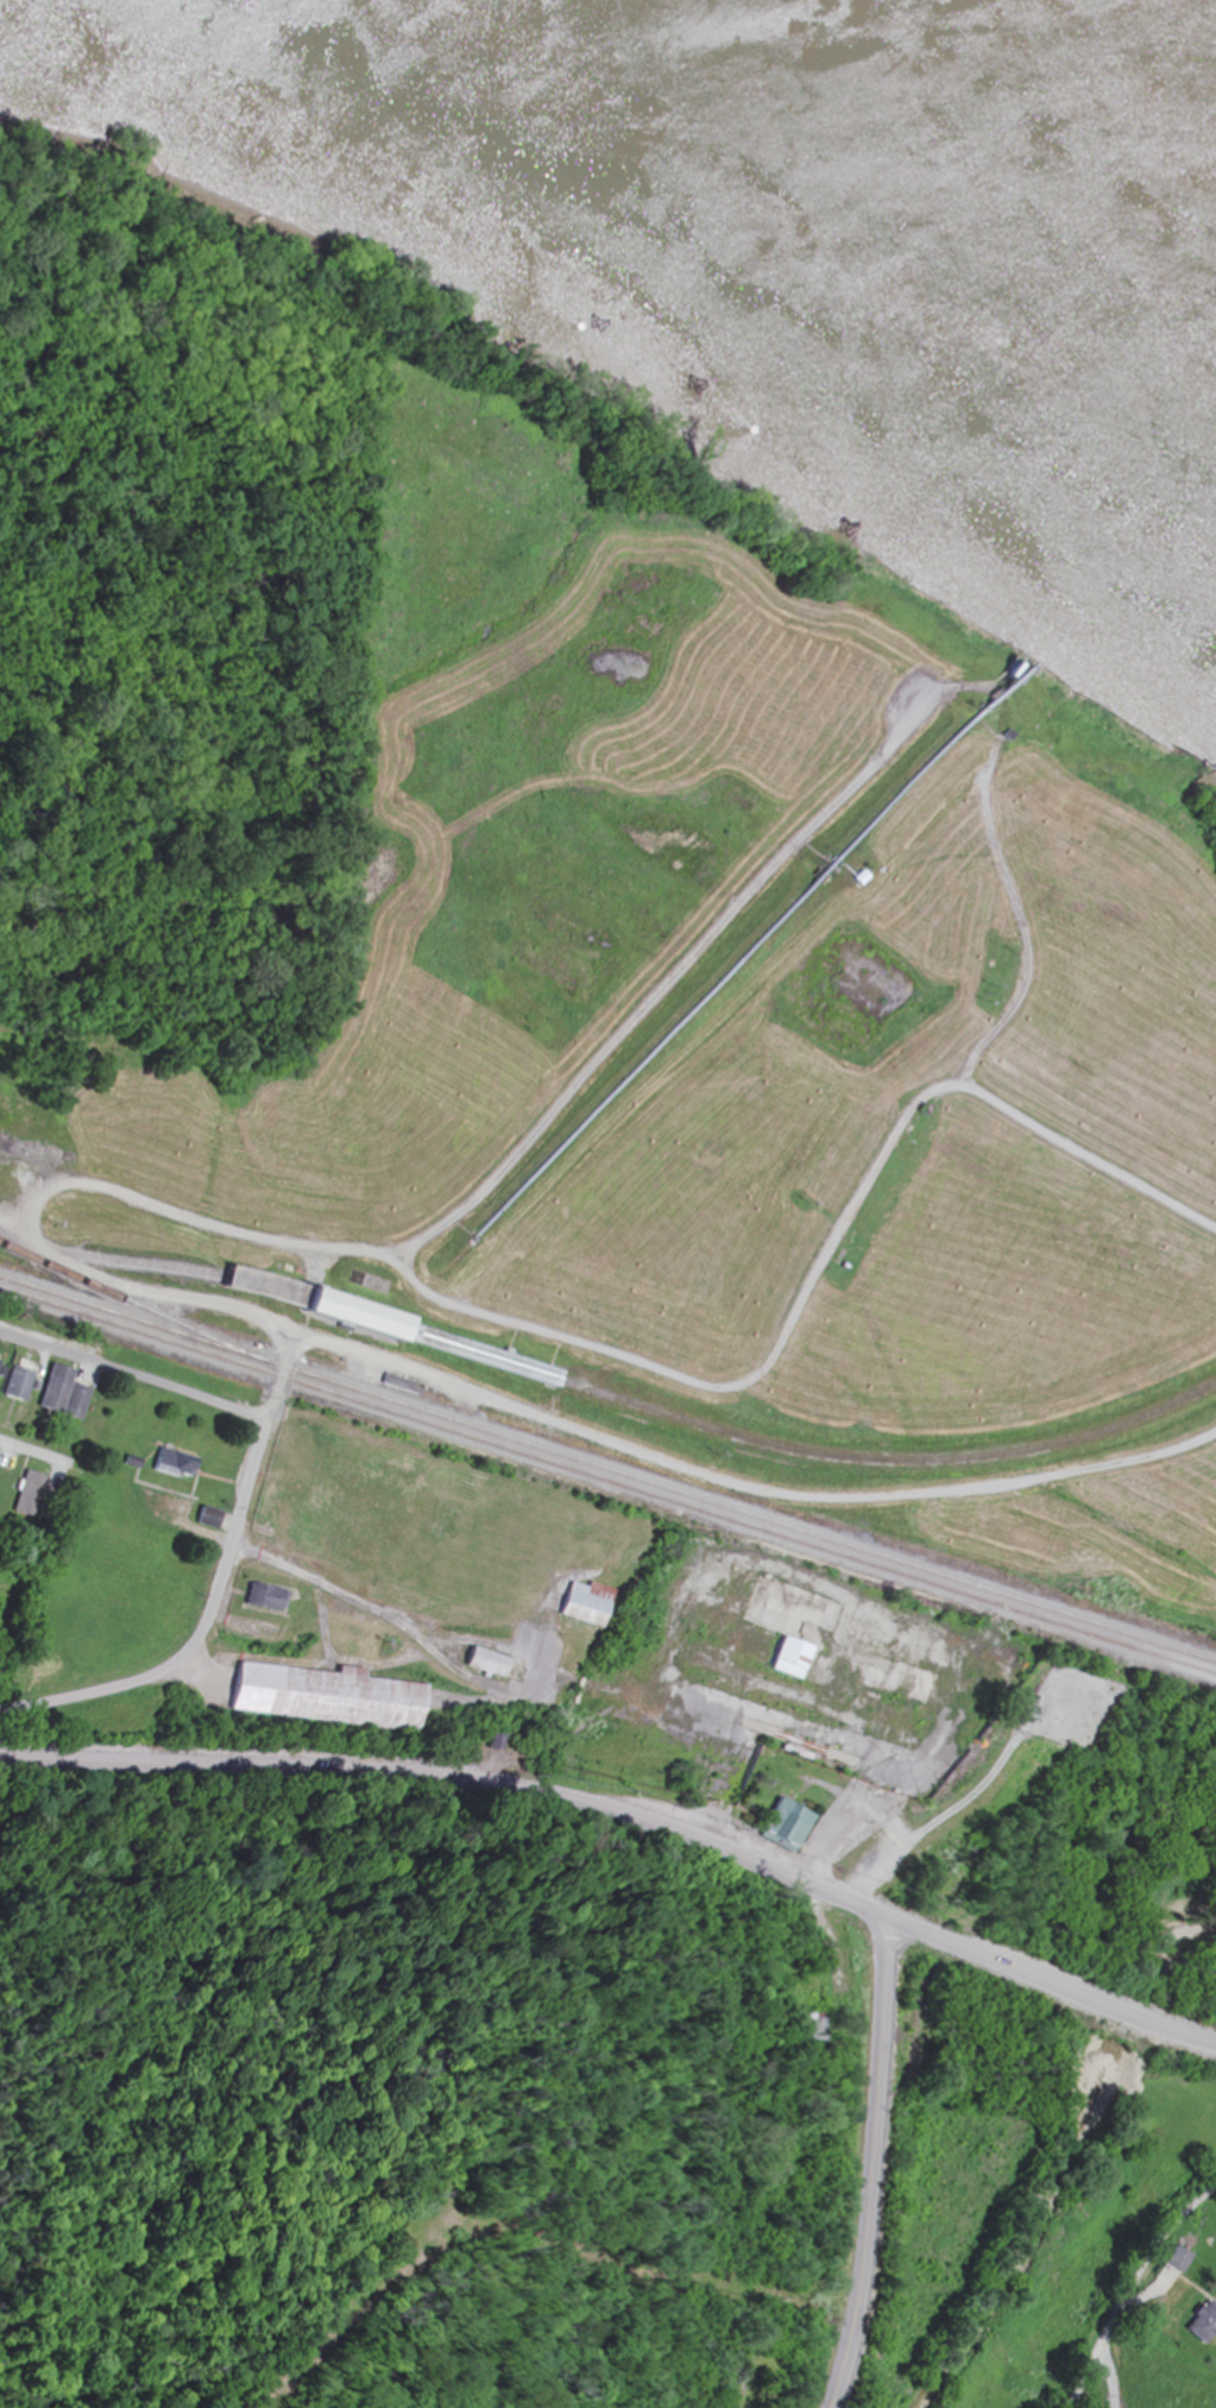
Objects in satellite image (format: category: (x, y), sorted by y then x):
river: (1031, 113)
railway: (132, 1304)
road: (133, 1379)
railway: (607, 1394)
road: (31, 1452)
railway: (607, 1470)
railway: (607, 1483)
road: (197, 1631)
road: (625, 1751)
road: (625, 1820)
road: (867, 2163)
road: (1130, 2288)

